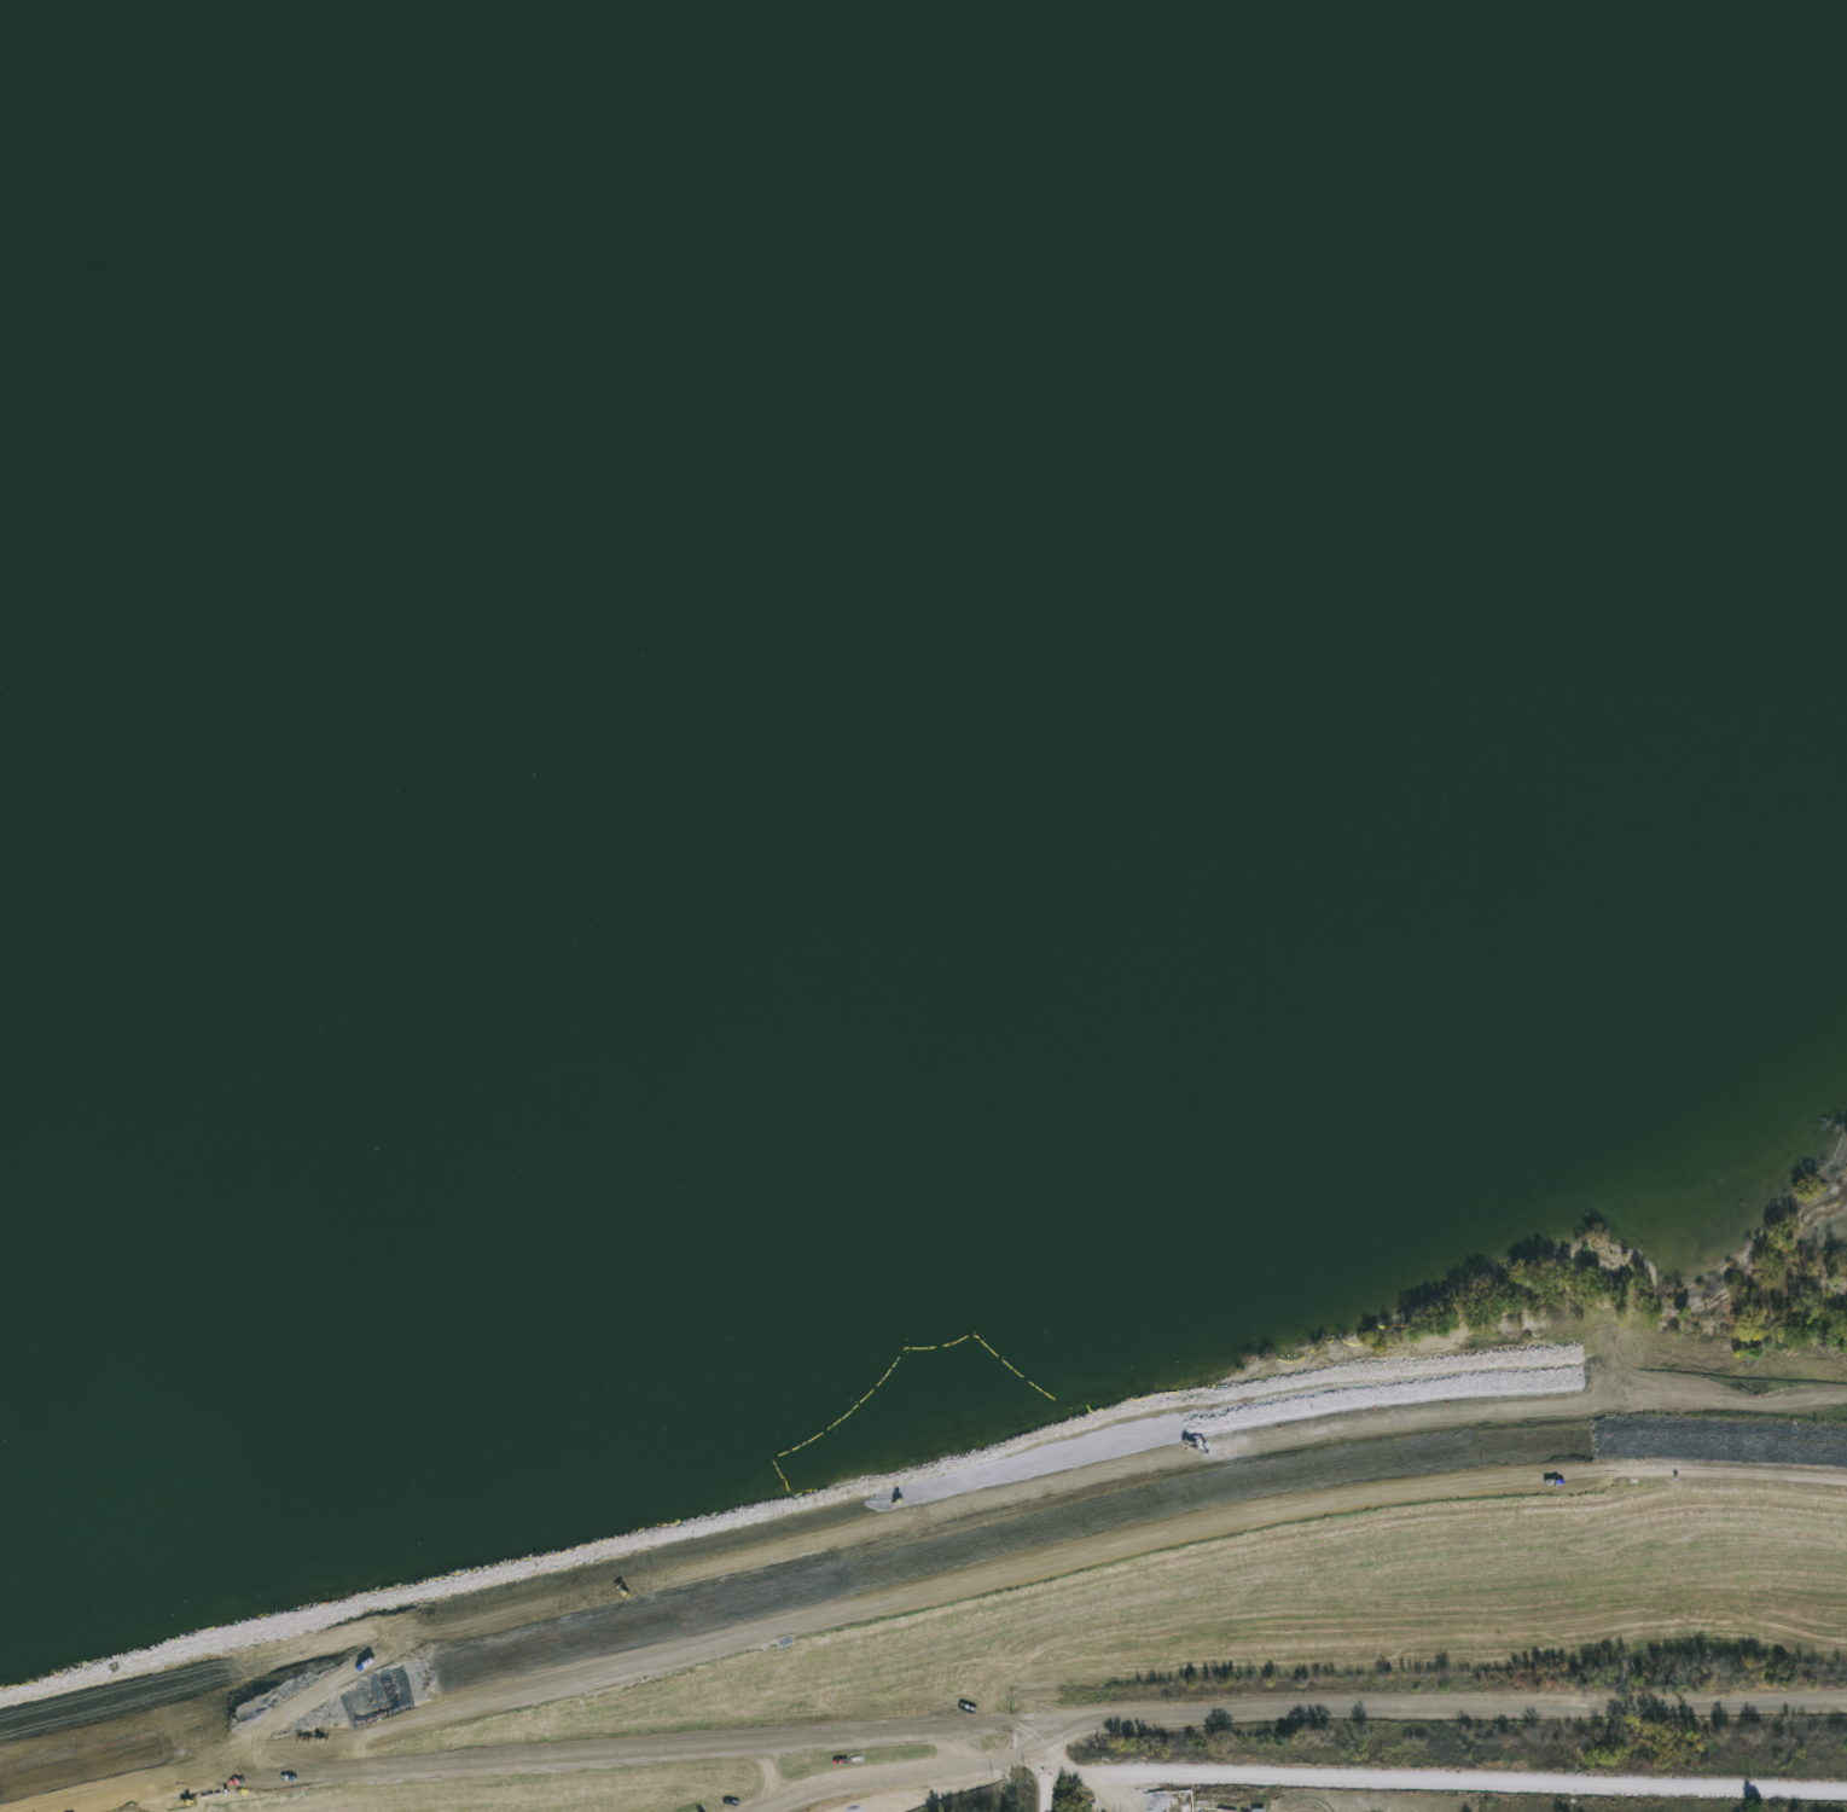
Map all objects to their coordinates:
road: (922, 1586)
dam: (974, 1607)
road: (1007, 1724)
road: (1049, 1766)
road: (894, 1771)

